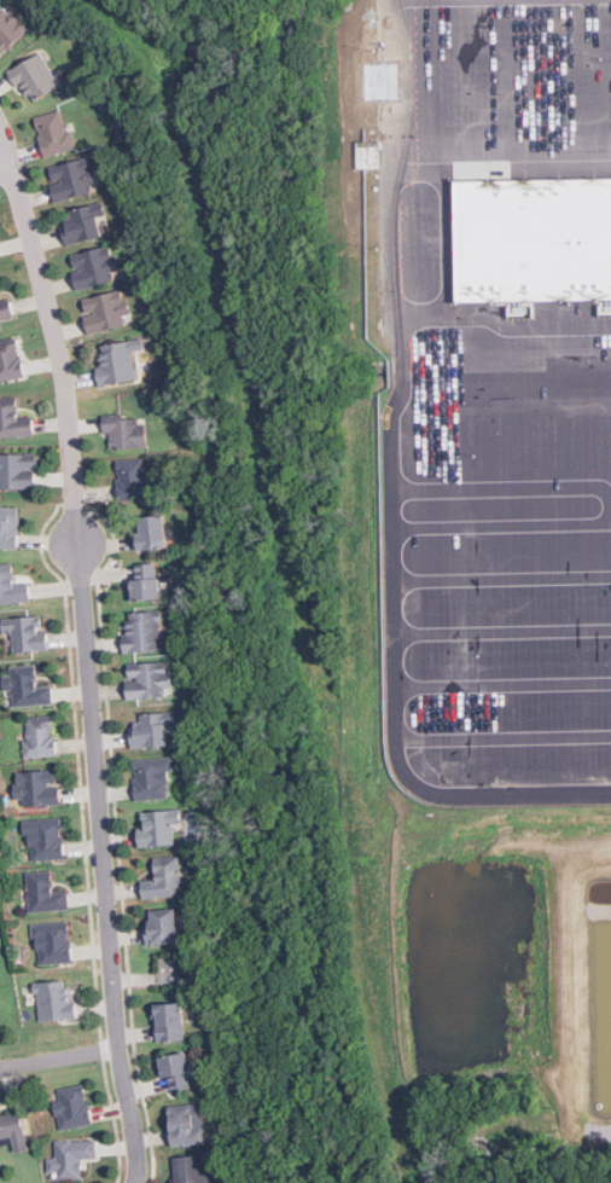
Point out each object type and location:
building: (10, 28)
building: (34, 77)
building: (53, 132)
road: (5, 176)
building: (70, 178)
building: (82, 224)
building: (93, 266)
building: (5, 308)
building: (105, 311)
building: (10, 360)
building: (117, 361)
road: (514, 394)
building: (13, 419)
building: (123, 430)
building: (17, 470)
building: (130, 479)
road: (419, 483)
building: (8, 527)
building: (150, 532)
building: (144, 582)
building: (11, 586)
building: (142, 631)
building: (24, 633)
road: (85, 665)
building: (149, 679)
building: (24, 686)
building: (152, 729)
building: (39, 736)
building: (151, 777)
building: (35, 788)
building: (158, 827)
building: (43, 839)
building: (164, 877)
building: (43, 893)
building: (163, 926)
building: (52, 943)
building: (53, 999)
building: (170, 1021)
road: (59, 1057)
building: (175, 1071)
building: (71, 1107)
building: (185, 1125)
building: (13, 1129)
building: (71, 1158)
building: (191, 1170)

